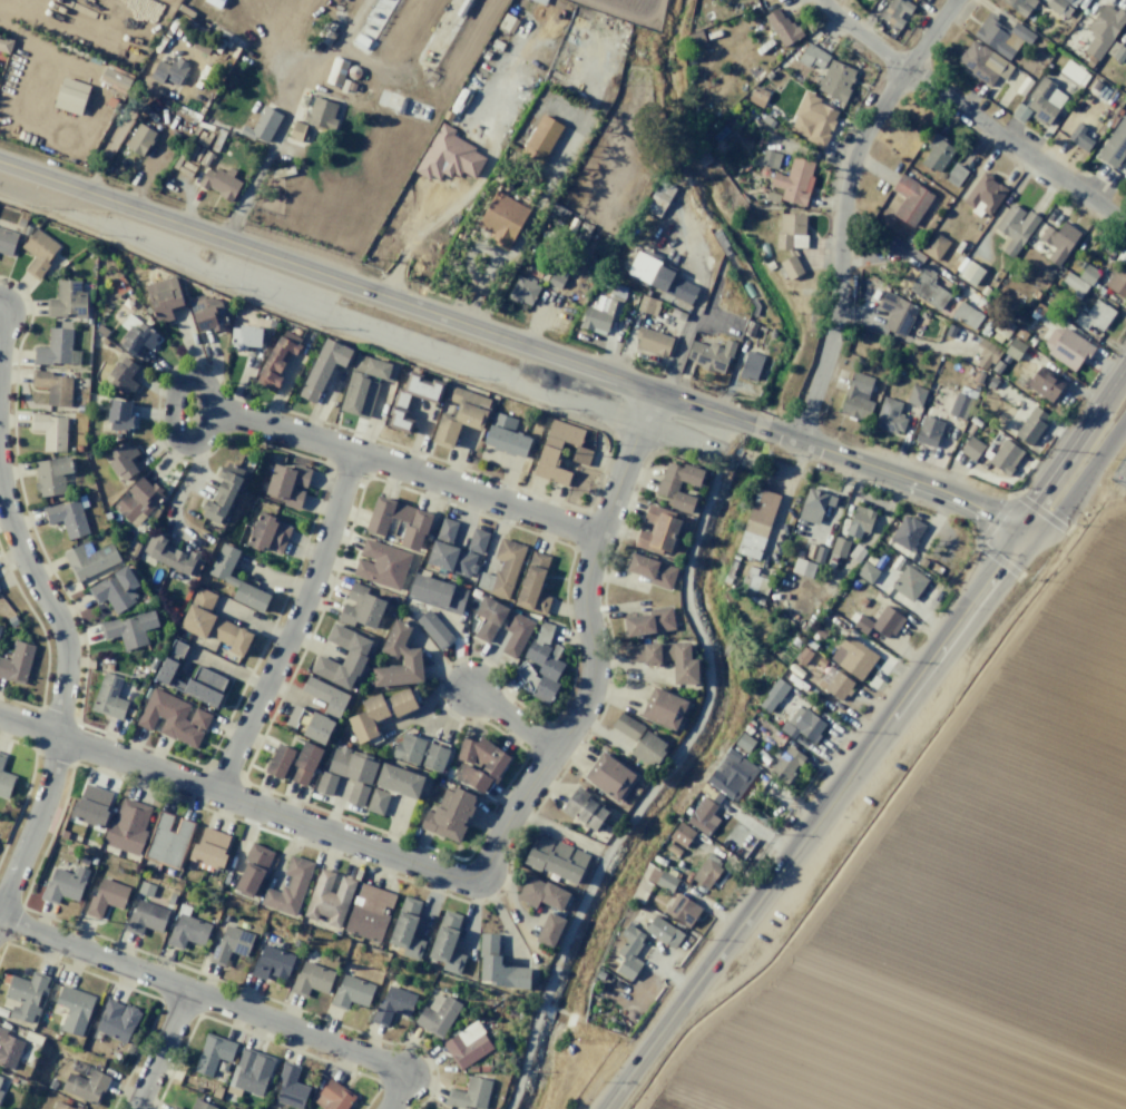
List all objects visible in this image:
building: (1066, 0)
building: (1056, 4)
building: (1019, 6)
building: (894, 12)
crop: (91, 16)
building: (783, 28)
building: (1103, 29)
building: (1000, 36)
road: (861, 37)
building: (6, 46)
building: (1115, 51)
building: (809, 62)
building: (981, 62)
building: (168, 71)
building: (336, 72)
building: (1071, 72)
building: (115, 79)
building: (836, 81)
building: (70, 96)
building: (757, 97)
building: (1040, 100)
building: (1019, 112)
building: (322, 116)
building: (816, 120)
building: (265, 125)
building: (295, 131)
building: (1078, 137)
building: (541, 138)
building: (139, 139)
building: (1114, 144)
road: (1015, 145)
building: (936, 154)
building: (449, 156)
building: (770, 159)
building: (954, 175)
building: (795, 181)
building: (219, 183)
road: (432, 185)
building: (982, 196)
building: (658, 198)
building: (909, 199)
road: (842, 206)
building: (502, 219)
building: (1012, 229)
building: (1058, 241)
building: (7, 242)
building: (791, 243)
building: (933, 245)
building: (38, 252)
building: (970, 273)
building: (1086, 273)
building: (659, 276)
building: (556, 277)
building: (1117, 282)
building: (1073, 283)
building: (927, 287)
building: (521, 291)
building: (164, 297)
building: (67, 300)
building: (647, 305)
building: (755, 306)
building: (1037, 311)
building: (207, 312)
building: (897, 313)
building: (601, 315)
building: (966, 315)
building: (1094, 316)
building: (750, 328)
building: (136, 334)
building: (244, 336)
road: (513, 340)
building: (652, 341)
building: (55, 346)
building: (1066, 347)
building: (1014, 350)
building: (986, 352)
road: (677, 354)
building: (711, 355)
building: (276, 360)
building: (750, 366)
building: (322, 369)
building: (123, 376)
building: (365, 383)
building: (1044, 383)
building: (53, 386)
road: (209, 394)
building: (916, 395)
building: (856, 399)
building: (401, 400)
building: (959, 405)
building: (119, 415)
building: (460, 415)
building: (889, 416)
building: (1030, 425)
building: (50, 430)
building: (928, 431)
building: (505, 435)
building: (971, 449)
road: (1068, 449)
building: (548, 452)
building: (1005, 457)
building: (123, 460)
road: (404, 469)
building: (51, 474)
road: (1079, 482)
building: (287, 484)
building: (665, 489)
building: (222, 494)
building: (138, 501)
building: (814, 506)
building: (67, 518)
building: (859, 521)
building: (757, 523)
building: (417, 526)
building: (657, 530)
building: (907, 532)
building: (267, 533)
building: (839, 547)
building: (454, 550)
building: (816, 550)
building: (856, 553)
building: (819, 554)
building: (173, 556)
building: (88, 559)
building: (922, 562)
building: (381, 565)
building: (803, 567)
building: (502, 569)
building: (652, 570)
building: (866, 571)
building: (236, 579)
building: (756, 581)
building: (909, 582)
building: (532, 585)
building: (115, 589)
building: (437, 593)
building: (361, 607)
building: (649, 621)
building: (881, 621)
building: (213, 624)
road: (292, 626)
building: (517, 627)
building: (128, 629)
building: (433, 629)
building: (401, 651)
building: (802, 656)
building: (855, 657)
building: (667, 658)
building: (353, 660)
building: (821, 661)
building: (17, 663)
building: (540, 666)
building: (190, 678)
building: (834, 683)
road: (61, 694)
building: (773, 695)
building: (325, 696)
building: (108, 697)
building: (663, 708)
building: (378, 711)
building: (293, 716)
building: (173, 717)
road: (510, 719)
building: (802, 725)
building: (626, 726)
building: (317, 728)
building: (743, 742)
building: (409, 748)
building: (648, 749)
building: (434, 757)
building: (1, 759)
building: (278, 760)
building: (304, 763)
building: (480, 763)
building: (352, 765)
building: (785, 765)
building: (732, 775)
building: (609, 776)
building: (399, 779)
building: (4, 783)
building: (325, 783)
building: (707, 791)
building: (356, 794)
building: (376, 802)
building: (91, 806)
building: (584, 809)
building: (448, 814)
building: (702, 815)
road: (814, 822)
building: (127, 827)
building: (682, 834)
building: (168, 840)
building: (209, 848)
building: (674, 850)
building: (556, 860)
road: (486, 864)
building: (253, 868)
building: (705, 873)
building: (660, 879)
building: (63, 884)
building: (288, 887)
building: (145, 889)
crop: (971, 891)
building: (540, 893)
building: (106, 896)
building: (330, 897)
building: (682, 910)
building: (369, 912)
building: (145, 917)
building: (407, 928)
building: (549, 930)
building: (663, 931)
building: (186, 932)
building: (447, 942)
building: (228, 945)
building: (628, 952)
building: (272, 963)
building: (498, 965)
building: (311, 979)
building: (351, 992)
building: (26, 994)
road: (202, 994)
building: (392, 1004)
building: (74, 1009)
building: (438, 1017)
building: (116, 1021)
building: (467, 1046)
road: (159, 1049)
building: (9, 1050)
building: (213, 1053)
building: (249, 1072)
building: (0, 1078)
building: (85, 1086)
building: (290, 1087)
building: (216, 1091)
building: (0, 1093)
building: (469, 1093)
building: (332, 1096)
road: (393, 1096)
building: (200, 1105)
building: (59, 1106)
building: (78, 1107)
building: (175, 1108)

